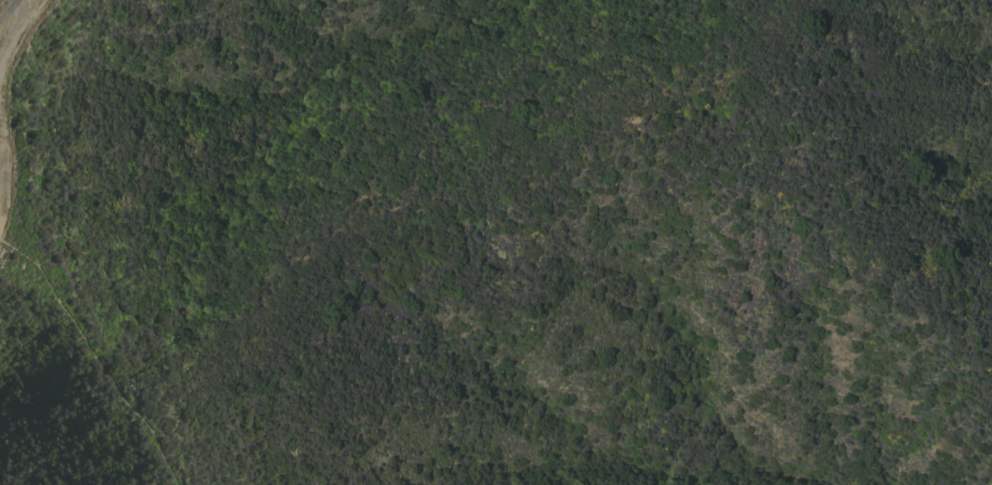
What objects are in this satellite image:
road: (6, 8)
road: (94, 355)

